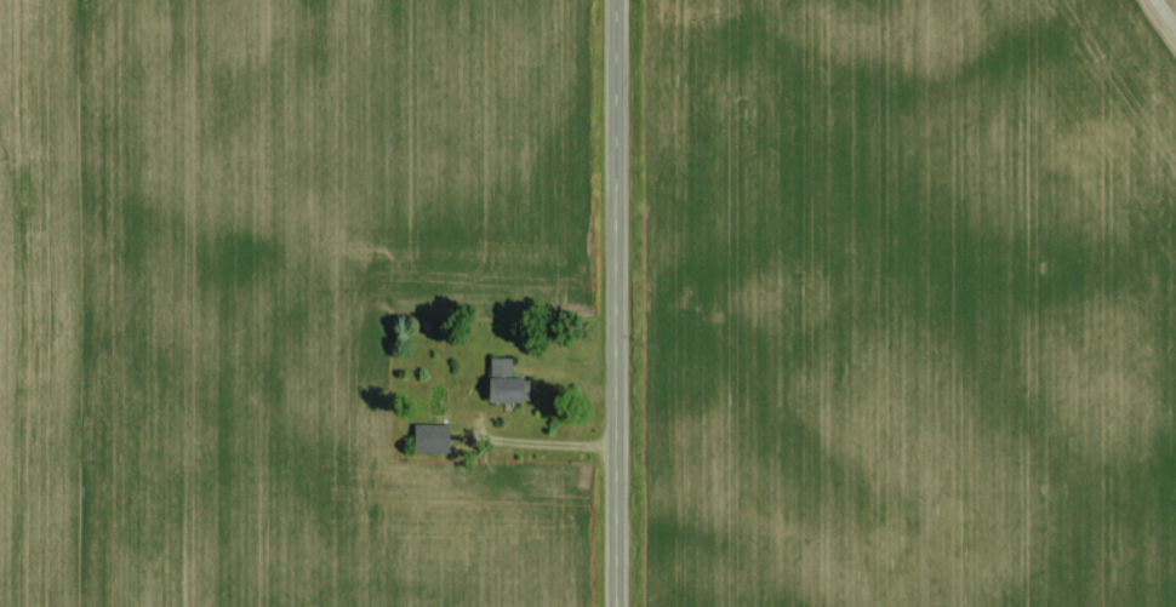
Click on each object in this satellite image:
road: (620, 303)
building: (501, 379)
building: (430, 436)

